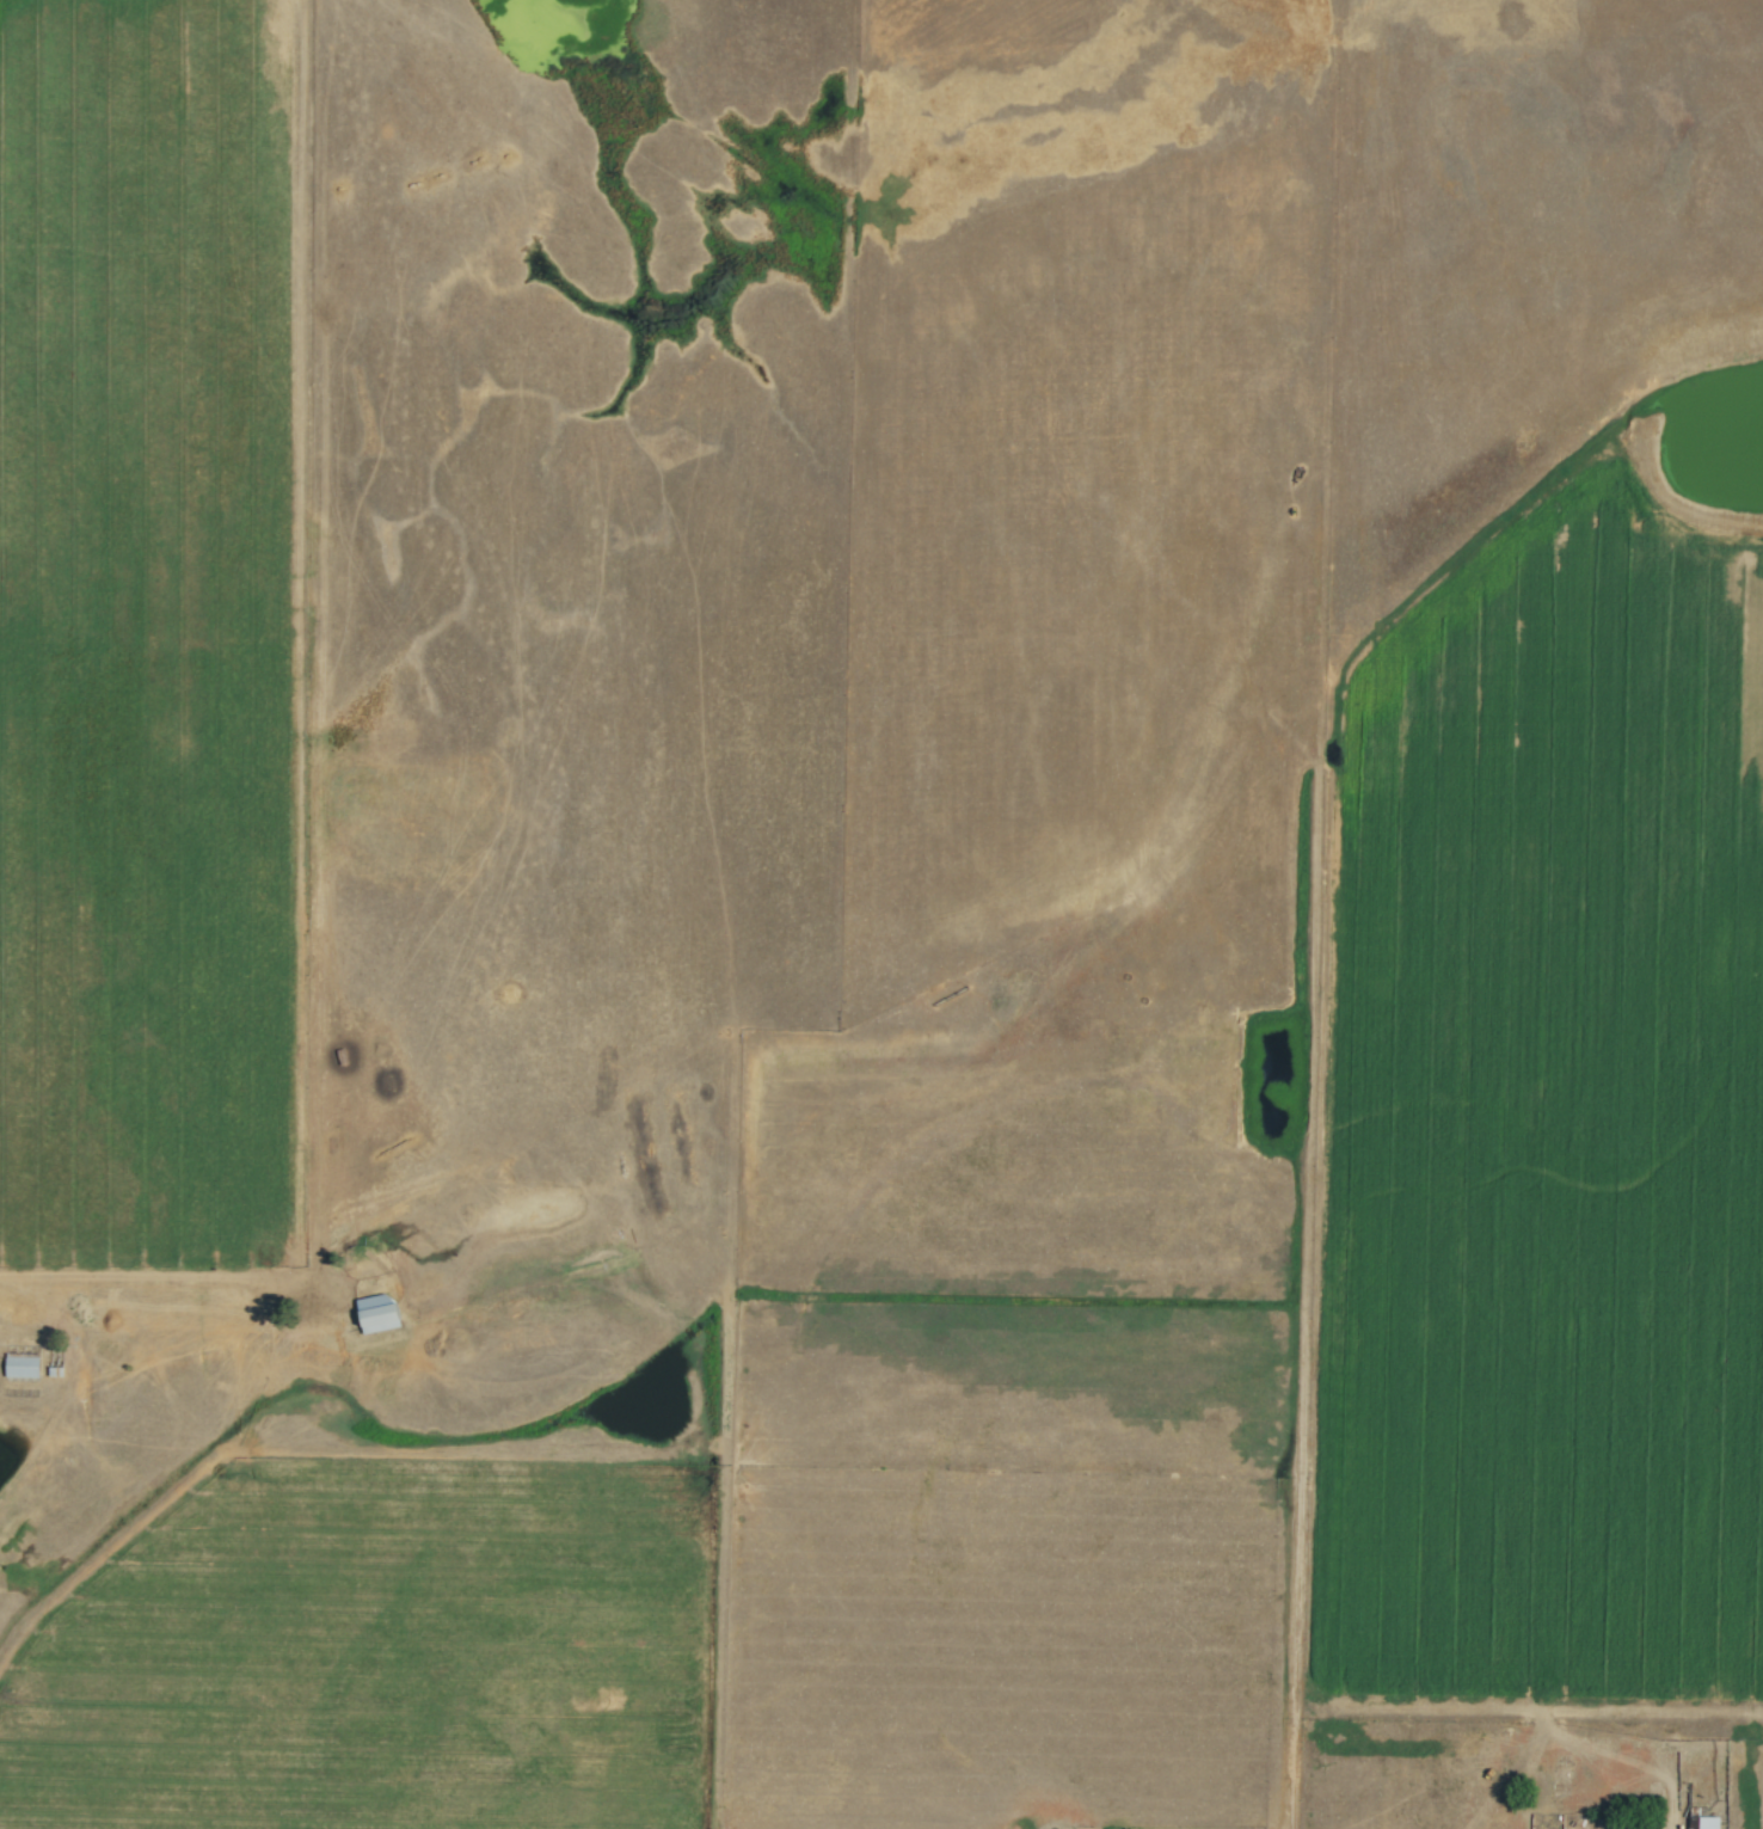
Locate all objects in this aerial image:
crop: (155, 630)
building: (379, 1313)
crop: (521, 1367)
crop: (1016, 1449)
crop: (380, 1646)
building: (1704, 1823)

